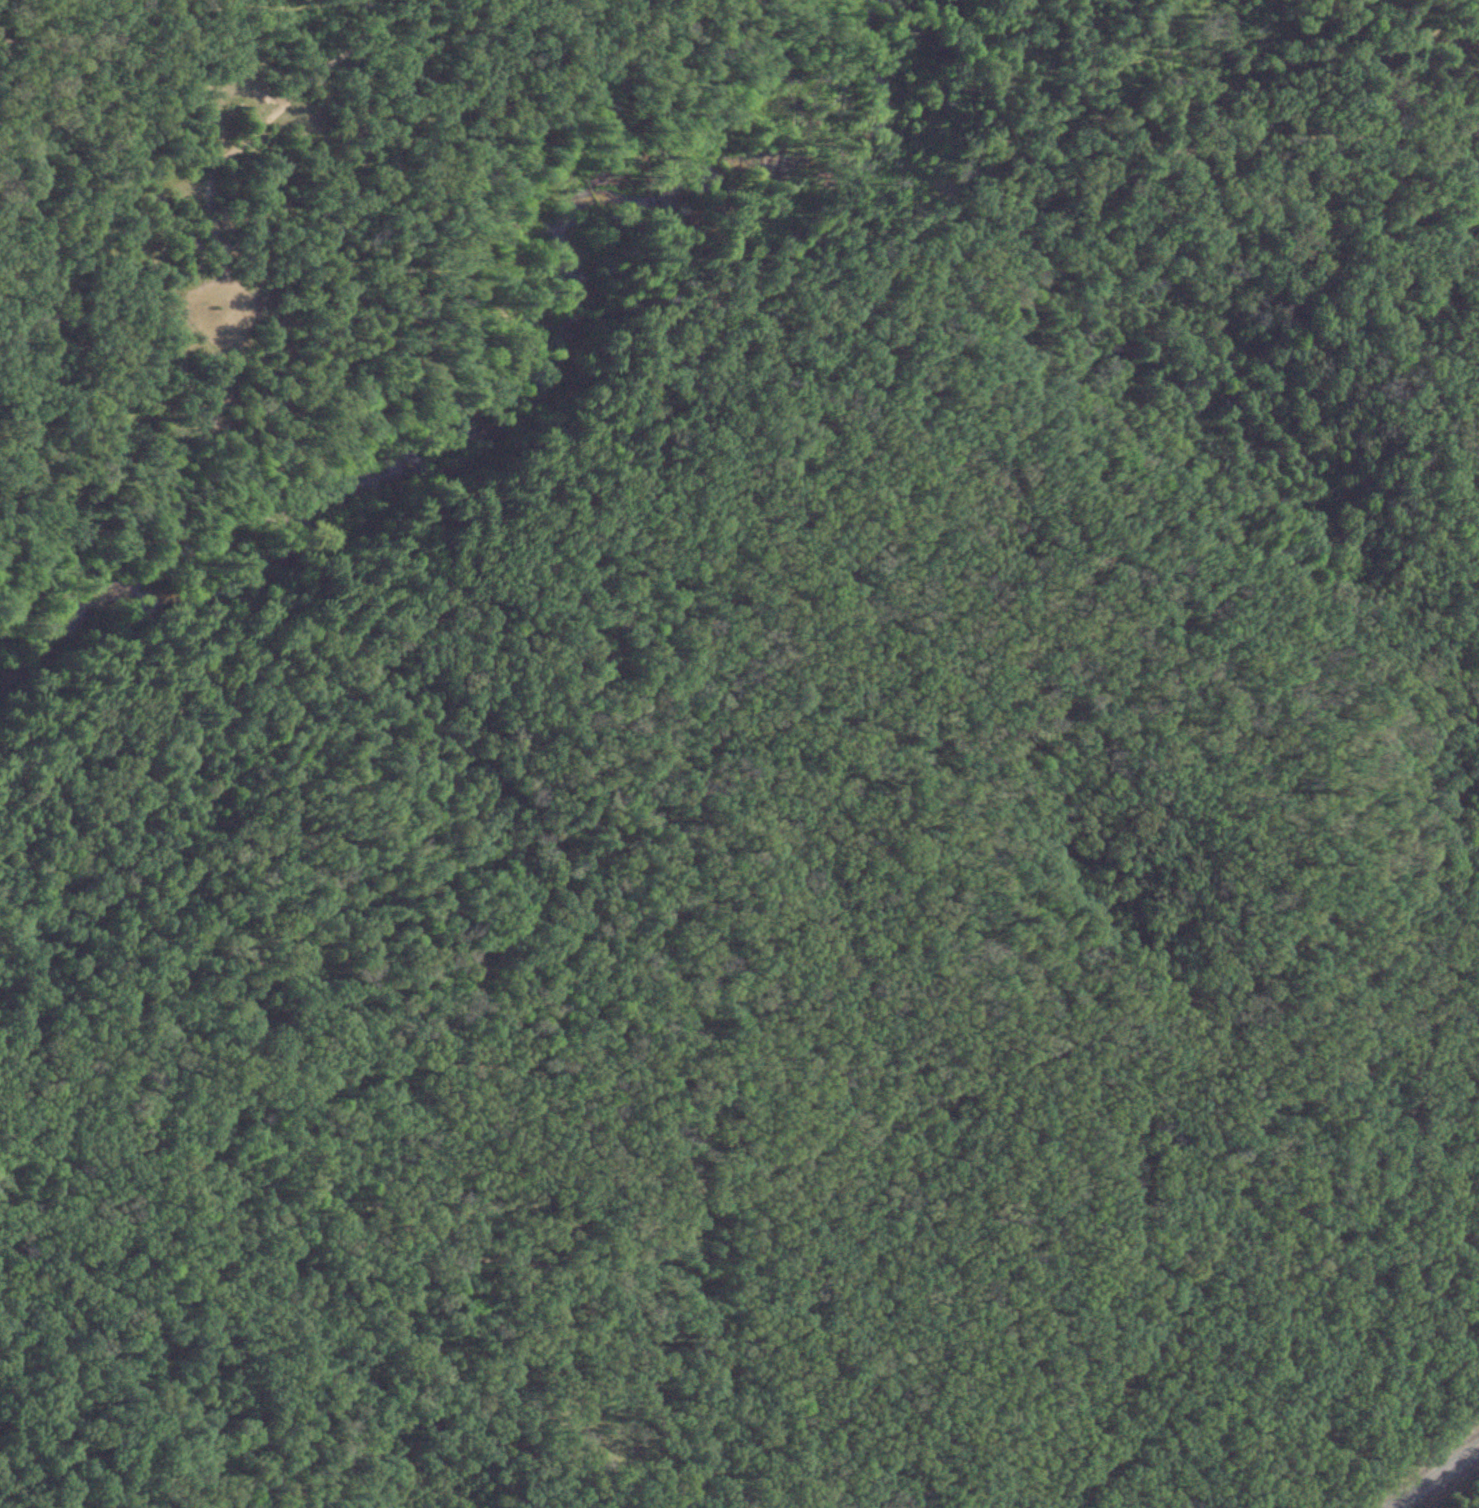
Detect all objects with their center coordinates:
road: (1361, 558)
railway: (1432, 1476)

